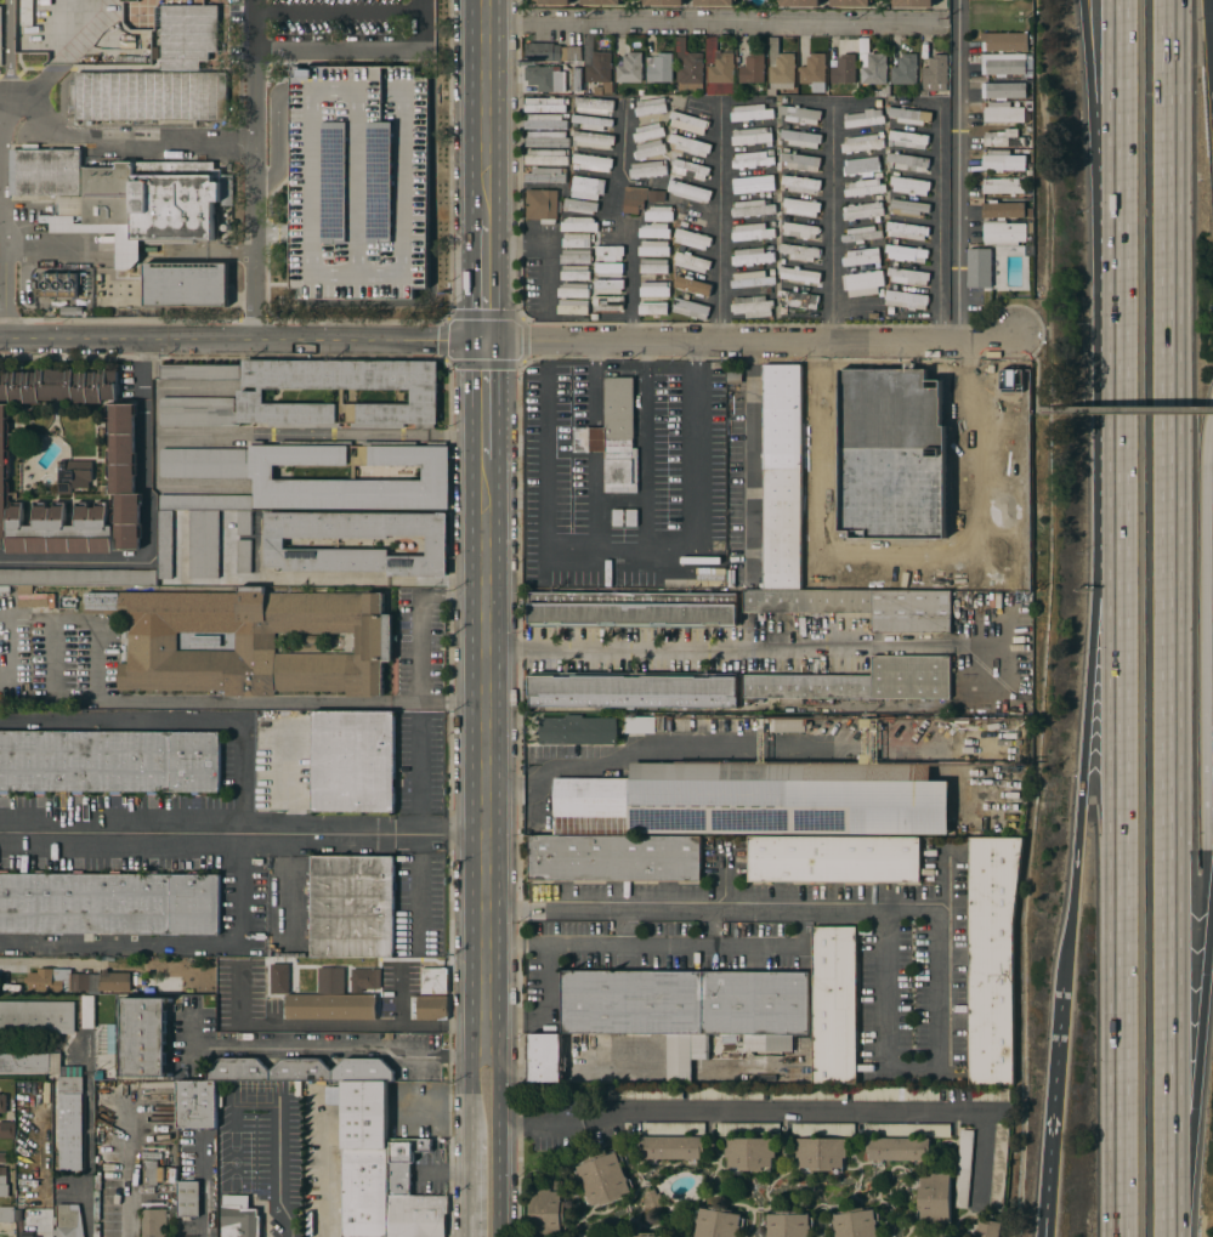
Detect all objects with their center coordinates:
building: (551, 1)
road: (576, 1)
building: (602, 2)
building: (664, 2)
road: (688, 2)
building: (715, 2)
building: (801, 2)
building: (851, 2)
building: (914, 2)
road: (712, 24)
road: (1211, 24)
building: (188, 35)
building: (1005, 41)
road: (7, 46)
road: (361, 47)
road: (62, 52)
building: (872, 64)
building: (574, 66)
building: (688, 67)
building: (780, 67)
building: (812, 67)
building: (1004, 67)
building: (544, 68)
building: (630, 68)
building: (661, 68)
building: (719, 68)
building: (752, 69)
building: (844, 69)
building: (905, 69)
building: (600, 72)
building: (935, 73)
building: (1004, 90)
building: (151, 96)
building: (544, 104)
building: (593, 104)
building: (650, 106)
road: (488, 110)
building: (750, 112)
building: (1004, 112)
road: (1105, 113)
road: (1118, 113)
building: (800, 114)
building: (909, 115)
building: (324, 118)
building: (865, 118)
building: (975, 118)
building: (545, 121)
building: (591, 121)
building: (687, 121)
building: (648, 132)
building: (750, 135)
building: (546, 138)
building: (801, 138)
building: (908, 138)
building: (1004, 138)
road: (115, 140)
building: (593, 140)
building: (862, 143)
building: (690, 144)
road: (1, 148)
building: (650, 149)
building: (545, 157)
building: (752, 159)
building: (1004, 160)
building: (800, 161)
building: (908, 161)
building: (593, 163)
building: (861, 165)
road: (254, 169)
building: (647, 169)
building: (688, 169)
building: (46, 171)
road: (958, 171)
building: (545, 175)
building: (800, 183)
building: (753, 185)
building: (911, 186)
building: (1004, 186)
building: (586, 187)
building: (865, 187)
building: (688, 191)
building: (151, 199)
building: (634, 199)
building: (542, 205)
building: (579, 205)
building: (800, 206)
building: (752, 208)
building: (909, 208)
building: (863, 211)
building: (658, 214)
building: (1005, 222)
road: (720, 223)
building: (579, 225)
road: (936, 225)
road: (620, 226)
building: (800, 229)
road: (831, 229)
building: (654, 231)
building: (907, 231)
building: (752, 232)
building: (862, 233)
building: (692, 238)
building: (576, 239)
road: (38, 242)
road: (545, 243)
building: (654, 248)
building: (209, 250)
building: (800, 251)
building: (610, 252)
building: (906, 252)
building: (576, 256)
building: (752, 256)
building: (861, 256)
building: (692, 262)
building: (653, 266)
road: (1118, 266)
building: (980, 268)
building: (608, 269)
road: (1, 271)
building: (576, 273)
building: (800, 276)
building: (907, 276)
building: (752, 279)
road: (488, 280)
building: (863, 283)
building: (59, 284)
building: (186, 284)
building: (610, 285)
building: (692, 285)
building: (654, 289)
building: (573, 290)
building: (798, 299)
building: (907, 300)
building: (608, 302)
building: (753, 306)
building: (573, 307)
building: (690, 307)
building: (652, 308)
road: (244, 339)
traffic signals: (488, 341)
road: (754, 342)
road: (1037, 368)
building: (199, 371)
building: (57, 385)
road: (594, 385)
building: (250, 393)
building: (712, 397)
road: (488, 399)
road: (1127, 412)
building: (850, 429)
road: (323, 433)
building: (900, 435)
building: (613, 436)
building: (874, 436)
road: (595, 439)
road: (644, 450)
building: (805, 450)
building: (713, 458)
road: (748, 459)
building: (947, 461)
building: (1008, 463)
building: (4, 471)
building: (124, 475)
building: (74, 476)
building: (216, 476)
building: (782, 477)
building: (1027, 478)
road: (595, 505)
building: (624, 517)
road: (148, 522)
building: (61, 529)
building: (436, 544)
building: (203, 552)
building: (243, 555)
road: (617, 557)
road: (907, 567)
building: (650, 579)
road: (250, 580)
building: (873, 581)
road: (438, 583)
building: (64, 601)
building: (862, 606)
building: (633, 609)
road: (1174, 618)
building: (205, 641)
building: (246, 641)
building: (311, 643)
road: (707, 646)
road: (420, 649)
road: (1092, 649)
building: (860, 681)
road: (1207, 686)
building: (633, 690)
road: (175, 722)
building: (645, 725)
building: (784, 725)
building: (577, 730)
road: (489, 759)
building: (109, 761)
building: (352, 761)
road: (614, 761)
road: (1117, 772)
road: (416, 776)
building: (755, 799)
road: (364, 834)
road: (120, 835)
building: (614, 857)
building: (833, 858)
road: (725, 884)
road: (943, 884)
building: (109, 903)
building: (352, 906)
road: (646, 910)
road: (878, 912)
road: (624, 927)
road: (708, 929)
road: (1212, 940)
road: (177, 946)
building: (992, 957)
building: (227, 965)
building: (279, 978)
building: (329, 980)
building: (364, 980)
building: (76, 981)
building: (433, 981)
road: (546, 985)
building: (685, 1003)
building: (834, 1004)
building: (330, 1006)
building: (429, 1006)
building: (87, 1011)
building: (36, 1016)
building: (143, 1037)
road: (340, 1051)
building: (545, 1057)
building: (735, 1057)
building: (30, 1062)
building: (300, 1069)
building: (70, 1085)
building: (644, 1093)
building: (725, 1093)
building: (809, 1093)
building: (896, 1094)
building: (990, 1094)
road: (471, 1095)
road: (1201, 1096)
building: (219, 1097)
building: (2, 1103)
building: (197, 1105)
road: (780, 1106)
road: (1052, 1114)
building: (673, 1128)
building: (748, 1129)
building: (822, 1129)
building: (7, 1130)
building: (907, 1130)
building: (70, 1131)
road: (499, 1145)
building: (671, 1147)
building: (897, 1148)
building: (750, 1153)
building: (821, 1153)
building: (363, 1156)
building: (2, 1157)
building: (171, 1159)
building: (402, 1163)
building: (964, 1168)
building: (998, 1168)
road: (278, 1171)
building: (151, 1173)
road: (127, 1174)
building: (602, 1178)
road: (330, 1181)
building: (2, 1182)
road: (204, 1186)
road: (470, 1190)
building: (102, 1191)
building: (934, 1198)
building: (188, 1199)
building: (652, 1201)
building: (548, 1212)
building: (7, 1214)
building: (416, 1215)
building: (67, 1221)
building: (239, 1221)
building: (154, 1222)
building: (716, 1222)
building: (855, 1222)
building: (787, 1224)
building: (310, 1225)
building: (988, 1229)
building: (27, 1233)
building: (644, 1235)
building: (296, 1236)

